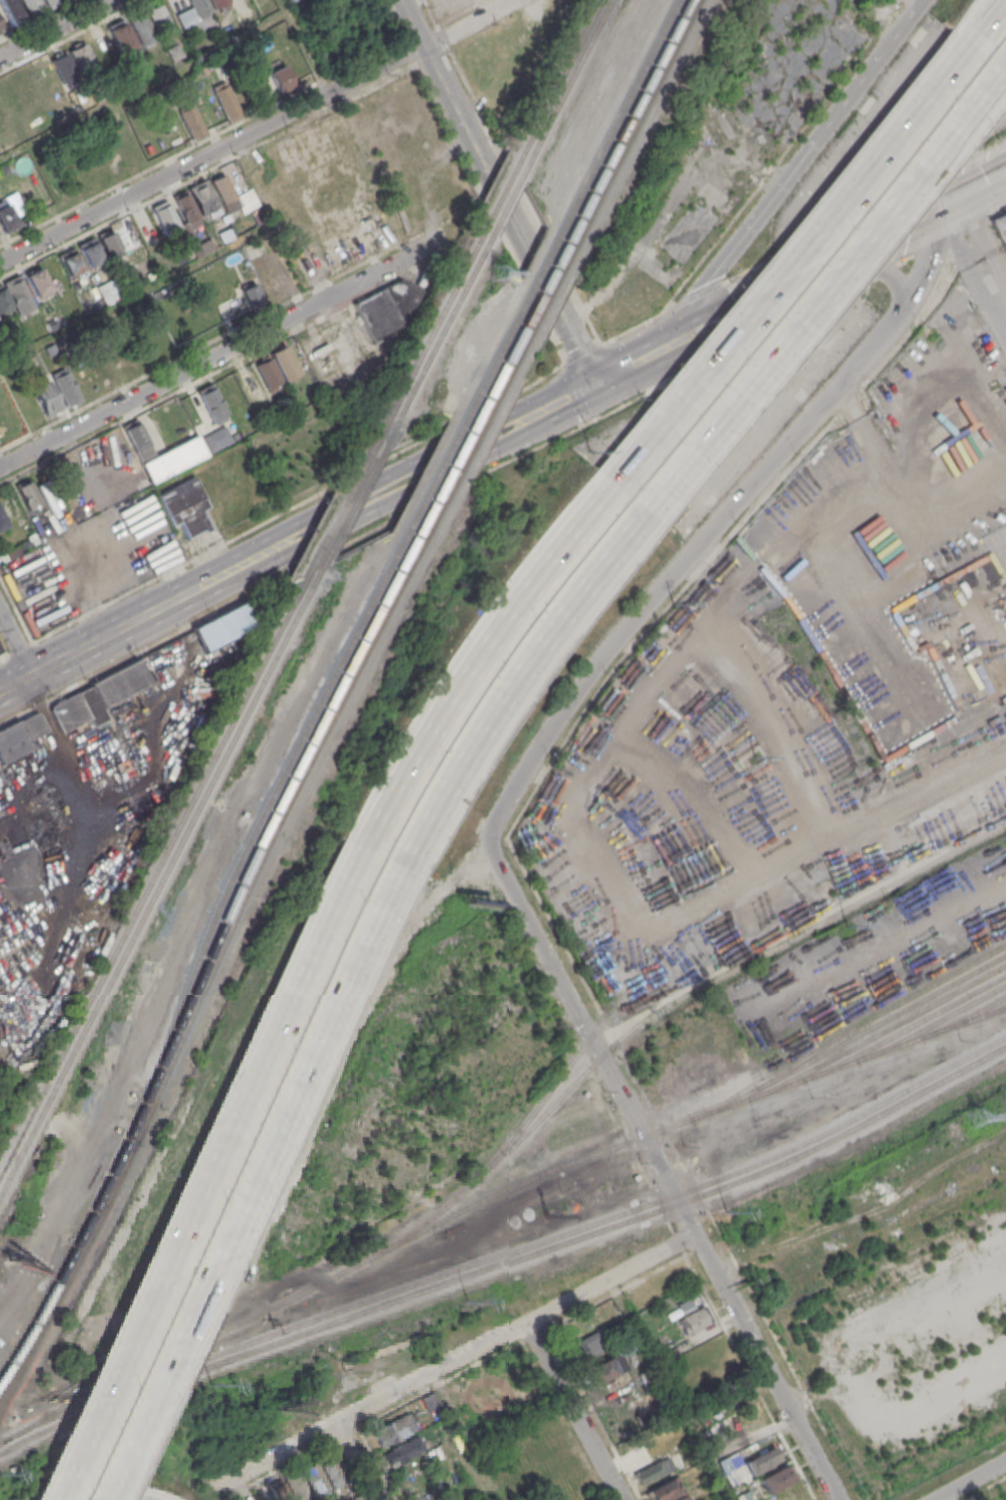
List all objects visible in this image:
building: (50, 2)
road: (917, 2)
building: (217, 3)
road: (994, 4)
road: (995, 4)
building: (32, 6)
building: (199, 6)
road: (914, 10)
building: (12, 11)
building: (160, 20)
road: (979, 25)
building: (1, 26)
building: (141, 26)
road: (56, 28)
building: (120, 37)
road: (306, 45)
building: (174, 51)
building: (82, 57)
building: (298, 65)
road: (183, 66)
building: (63, 67)
building: (205, 70)
road: (1003, 72)
road: (441, 76)
building: (44, 77)
building: (282, 79)
railway: (557, 84)
railway: (565, 89)
building: (228, 102)
building: (68, 108)
railway: (618, 117)
building: (192, 121)
railway: (624, 126)
road: (259, 128)
railway: (631, 131)
building: (3, 169)
road: (977, 184)
road: (777, 189)
building: (226, 193)
railway: (502, 194)
building: (203, 197)
traffic signals: (949, 200)
railway: (507, 204)
building: (187, 209)
road: (863, 211)
building: (166, 216)
building: (6, 217)
building: (1001, 225)
road: (892, 229)
road: (534, 238)
road: (982, 240)
building: (110, 243)
road: (521, 245)
building: (89, 252)
road: (929, 252)
building: (179, 255)
building: (70, 261)
road: (785, 264)
road: (879, 267)
power tower: (500, 274)
railway: (546, 279)
building: (37, 282)
railway: (551, 289)
building: (17, 293)
building: (254, 295)
road: (696, 296)
road: (128, 298)
road: (821, 298)
building: (3, 299)
building: (389, 307)
road: (742, 308)
road: (638, 327)
railway: (428, 338)
railway: (437, 340)
railway: (508, 353)
road: (219, 354)
road: (584, 354)
railway: (517, 355)
road: (586, 357)
traffic signals: (649, 357)
building: (285, 361)
road: (624, 370)
building: (269, 374)
traffic signals: (600, 383)
building: (66, 387)
building: (46, 397)
building: (214, 402)
building: (138, 441)
power tower: (593, 450)
railway: (468, 451)
park: (309, 456)
railway: (455, 457)
road: (402, 485)
building: (28, 496)
road: (299, 506)
building: (185, 508)
railway: (350, 510)
railway: (336, 516)
building: (2, 520)
building: (44, 530)
building: (16, 549)
road: (1003, 551)
power tower: (667, 604)
building: (227, 627)
road: (118, 631)
road: (16, 644)
road: (19, 648)
building: (0, 650)
road: (475, 656)
road: (4, 657)
road: (518, 683)
road: (16, 684)
building: (99, 697)
road: (554, 721)
building: (20, 735)
road: (978, 746)
road: (591, 767)
railway: (153, 874)
railway: (160, 881)
railway: (701, 922)
power tower: (845, 927)
railway: (206, 950)
railway: (213, 958)
railway: (664, 1009)
railway: (880, 1021)
railway: (963, 1022)
railway: (931, 1024)
railway: (847, 1029)
railway: (903, 1029)
railway: (876, 1033)
power tower: (977, 1120)
power substation: (2, 1131)
road: (627, 1145)
road: (208, 1167)
railway: (116, 1173)
road: (258, 1176)
railway: (493, 1195)
road: (655, 1201)
power tower: (724, 1210)
road: (668, 1227)
road: (675, 1241)
road: (695, 1248)
railway: (508, 1253)
railway: (508, 1262)
road: (615, 1290)
power tower: (469, 1305)
building: (694, 1317)
road: (530, 1335)
building: (587, 1344)
railway: (20, 1351)
road: (756, 1351)
road: (457, 1360)
building: (600, 1368)
road: (847, 1368)
road: (746, 1375)
road: (437, 1386)
power tower: (211, 1387)
road: (665, 1390)
building: (429, 1403)
road: (571, 1411)
building: (394, 1430)
road: (345, 1437)
road: (464, 1437)
building: (403, 1453)
building: (533, 1460)
building: (760, 1460)
road: (356, 1462)
building: (728, 1463)
road: (295, 1465)
building: (649, 1471)
building: (333, 1473)
building: (775, 1478)
building: (315, 1480)
road: (968, 1480)
building: (297, 1487)
building: (661, 1489)
building: (279, 1491)
road: (236, 1492)
road: (245, 1492)
road: (951, 1495)
building: (742, 1496)
building: (1005, 1496)
building: (678, 1497)
road: (120, 1498)

